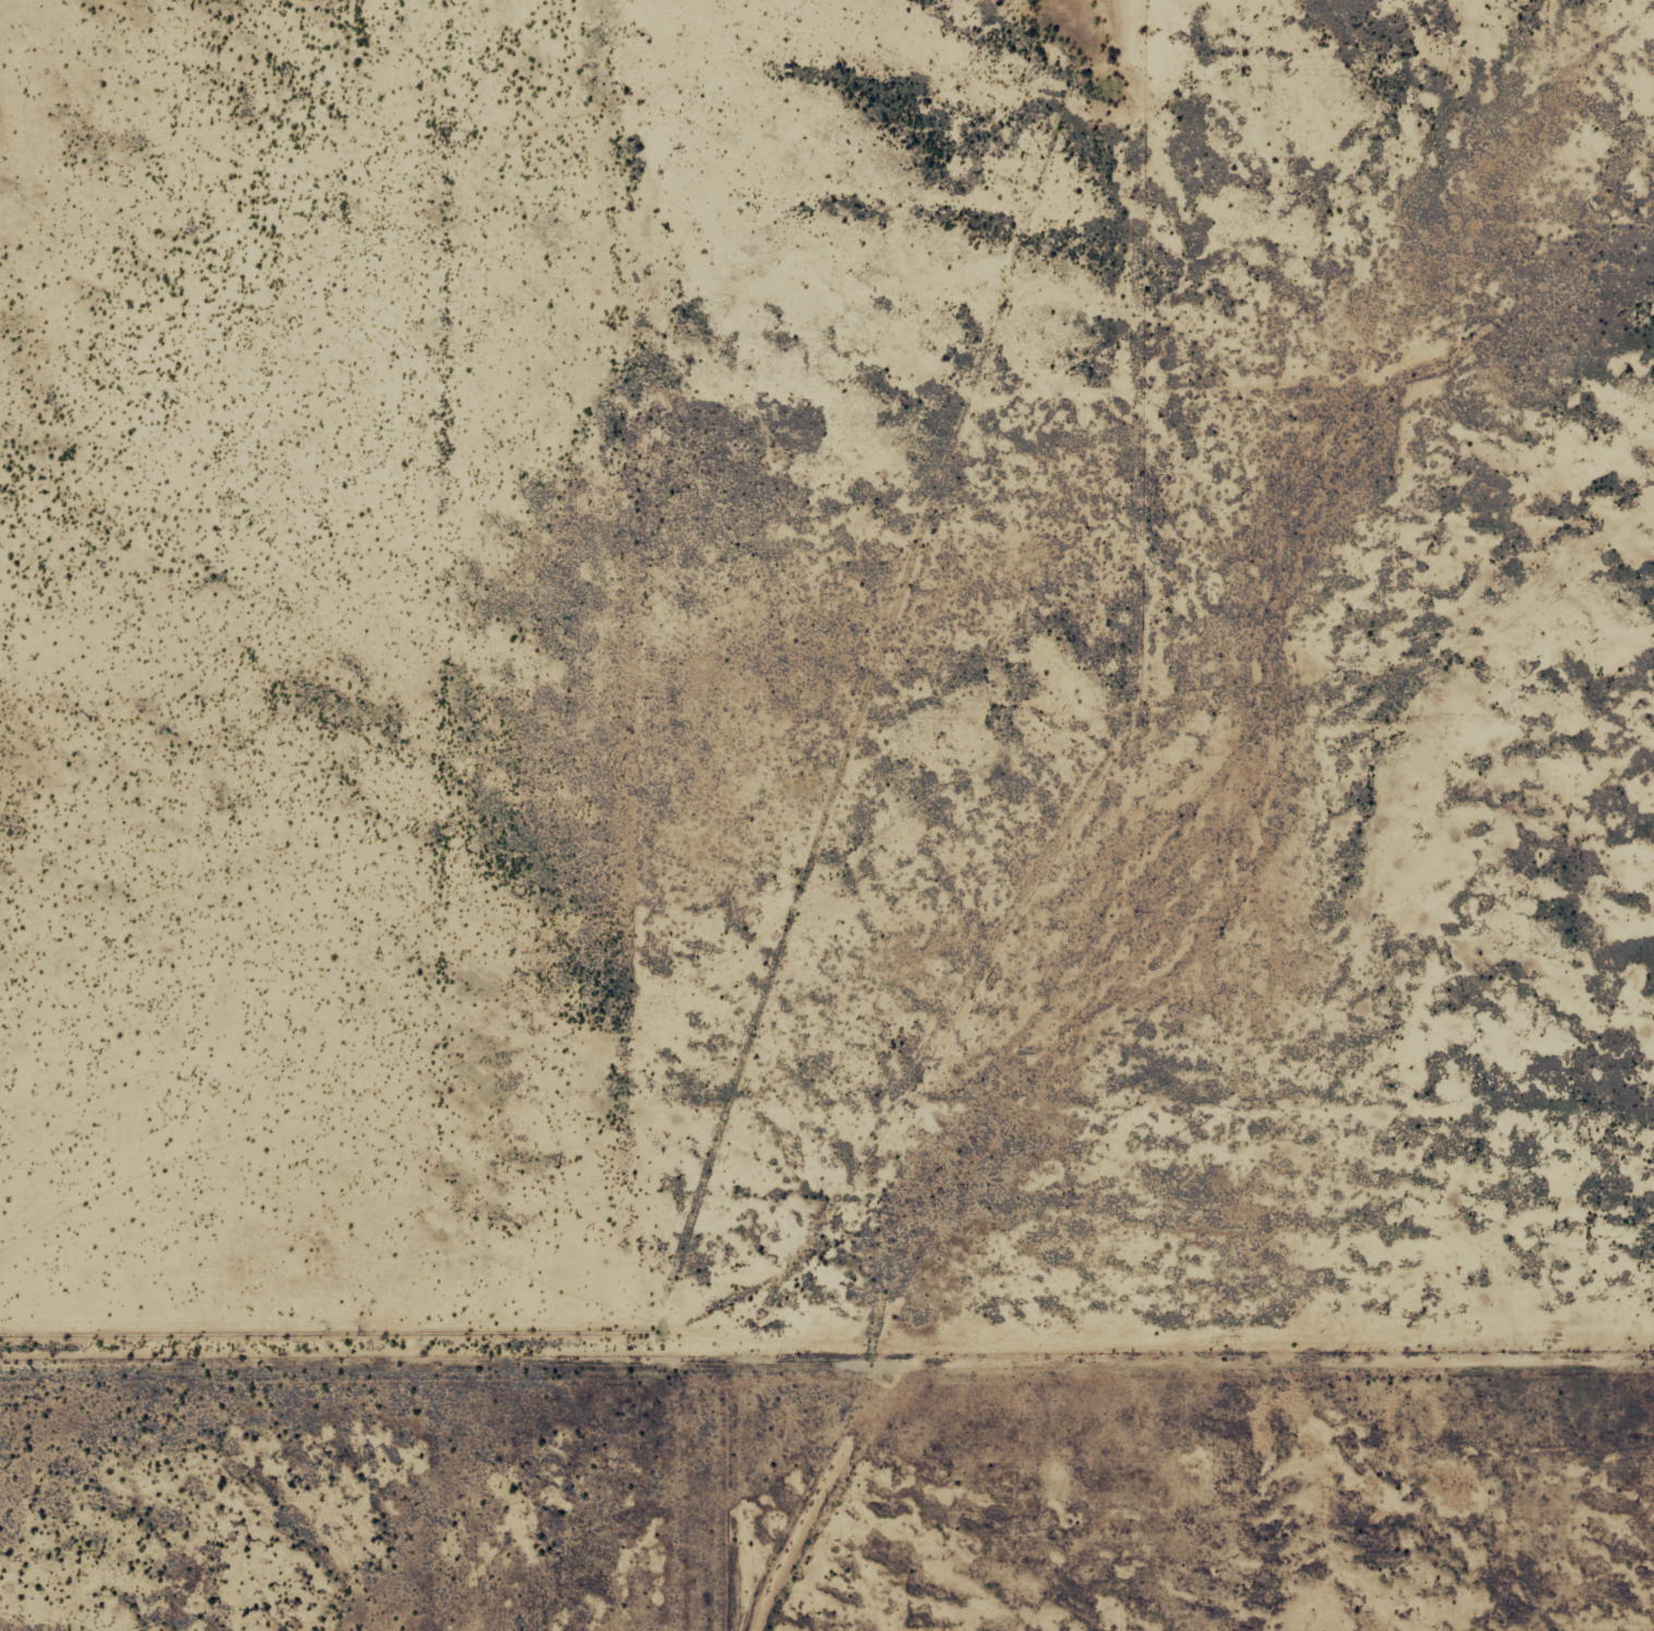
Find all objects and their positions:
road: (826, 1397)

